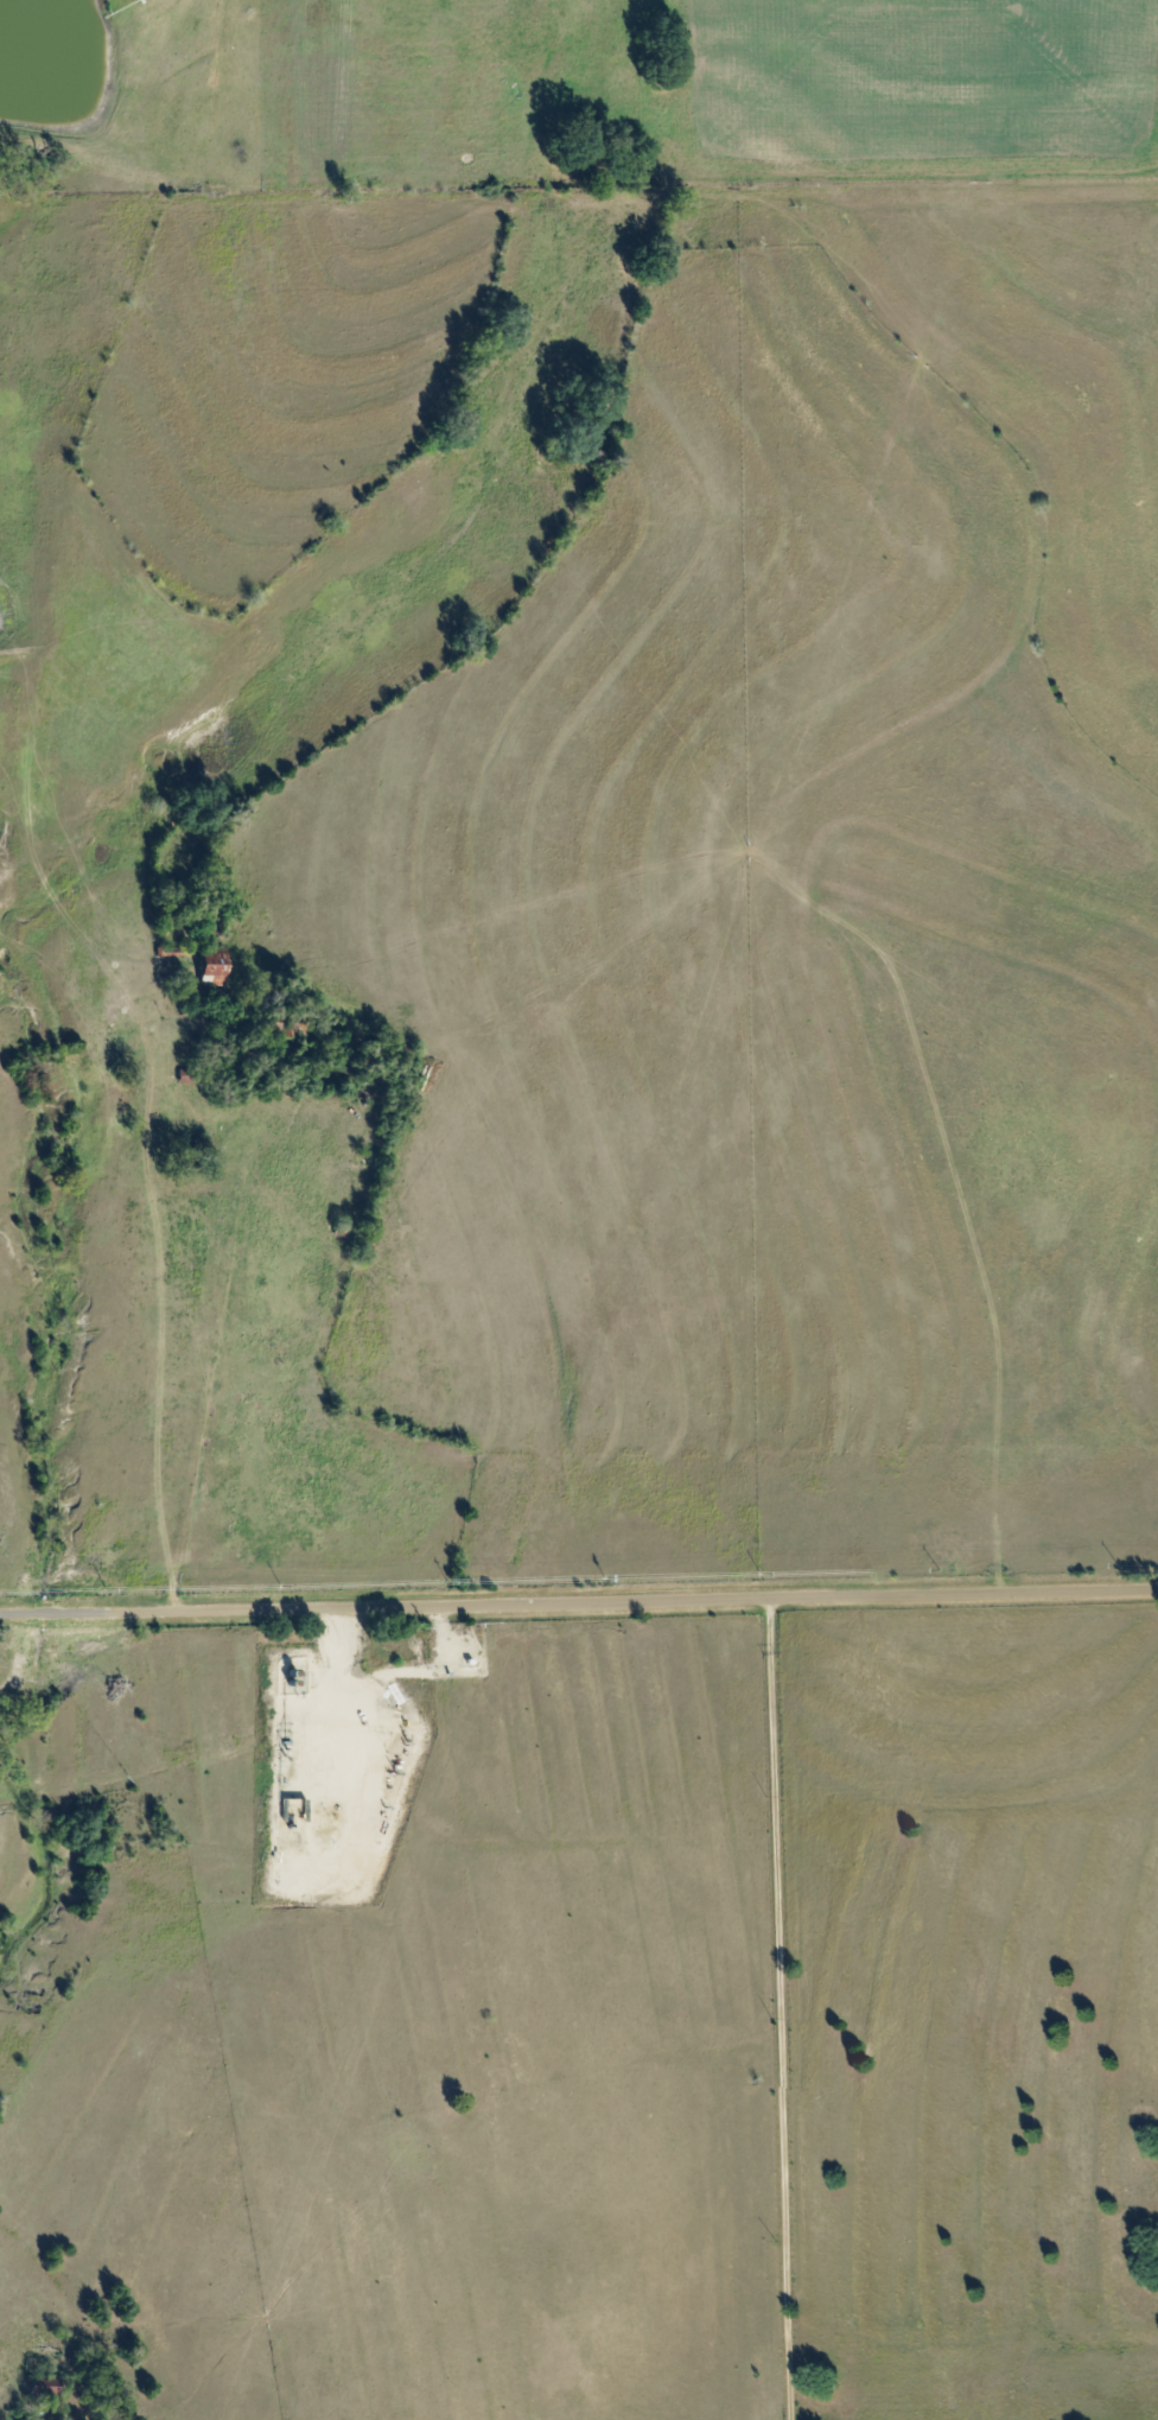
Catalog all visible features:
building: (215, 970)
road: (205, 1373)
road: (579, 1598)
road: (780, 2005)
building: (45, 2388)

